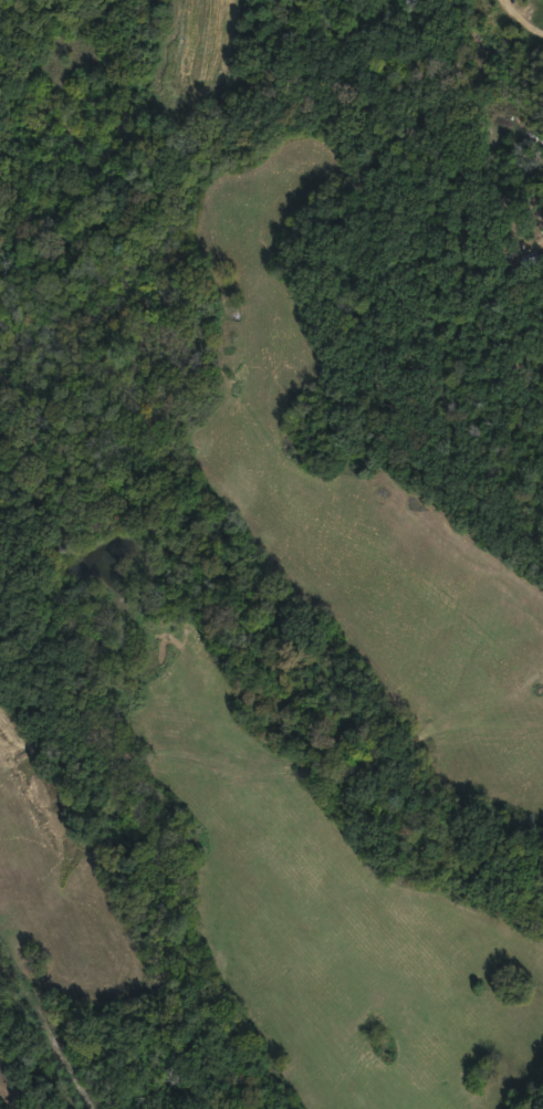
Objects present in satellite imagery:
building: (531, 258)
road: (45, 1028)

